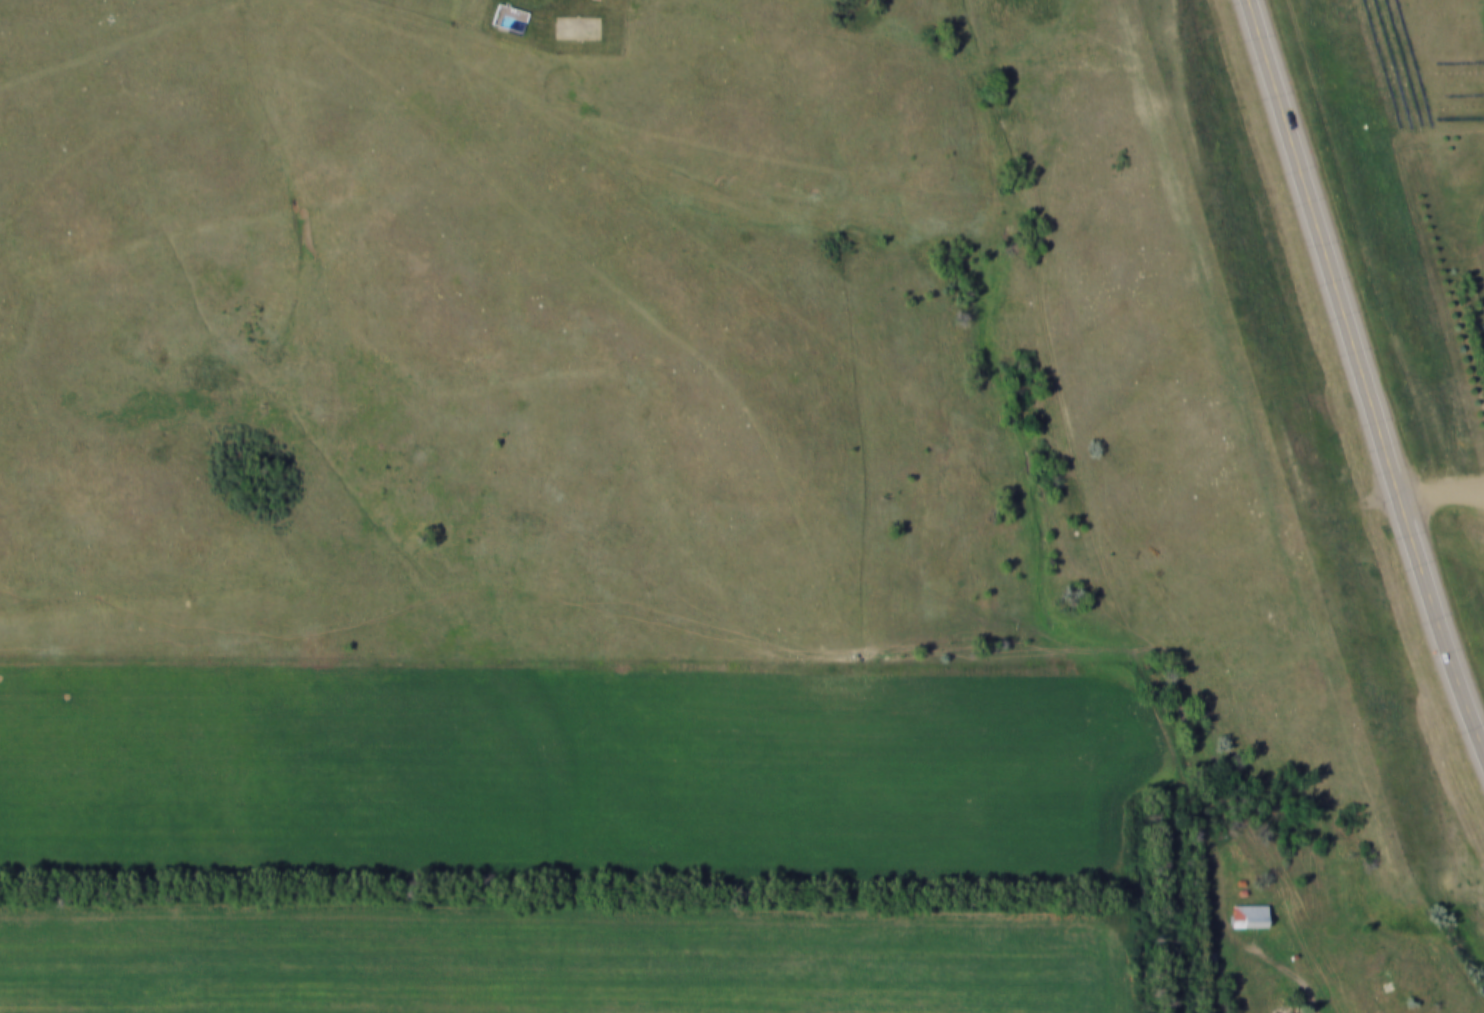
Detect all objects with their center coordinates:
road: (1363, 373)
road: (1443, 496)
building: (1251, 916)

